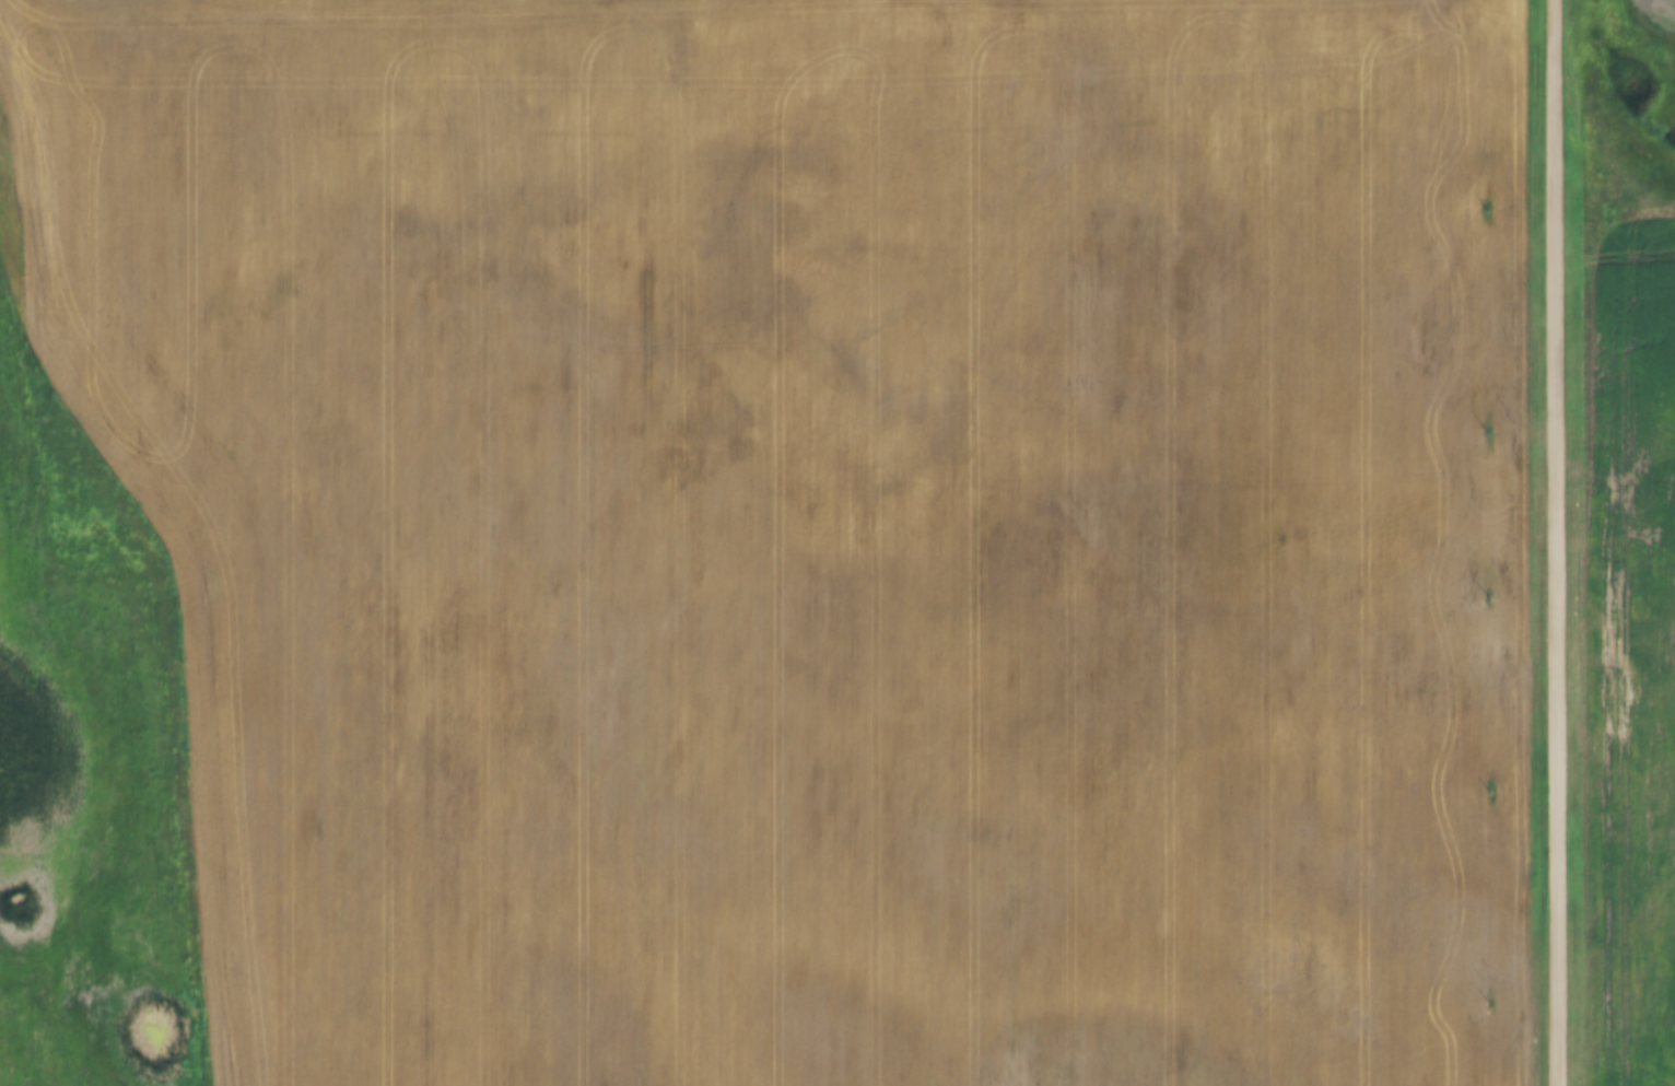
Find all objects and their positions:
road: (1553, 542)

